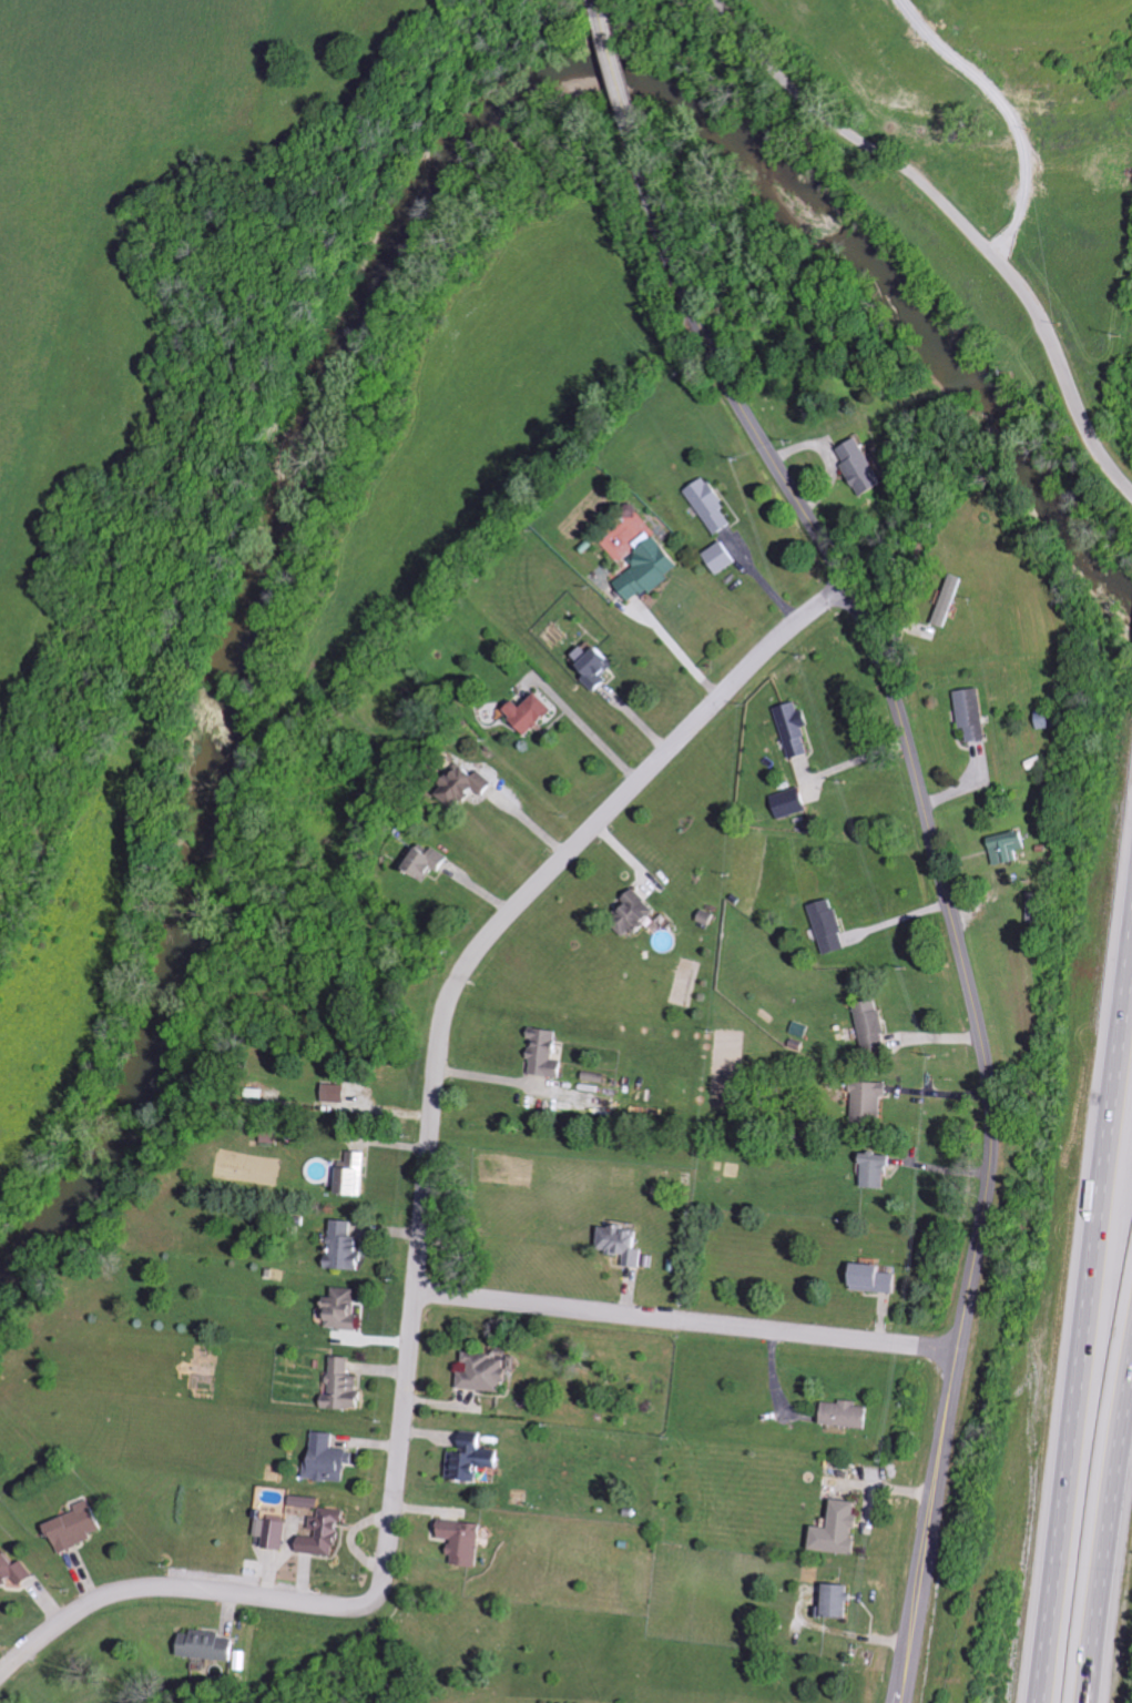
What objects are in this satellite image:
road: (599, 8)
road: (611, 57)
road: (1003, 112)
road: (956, 219)
building: (856, 467)
building: (706, 506)
building: (717, 558)
building: (643, 571)
building: (947, 602)
building: (589, 668)
building: (534, 712)
building: (968, 716)
building: (789, 730)
road: (594, 734)
building: (467, 787)
building: (786, 804)
building: (1004, 849)
building: (430, 863)
road: (941, 872)
building: (638, 912)
building: (832, 926)
building: (874, 1026)
building: (549, 1053)
road: (511, 1079)
building: (340, 1093)
building: (871, 1099)
building: (881, 1169)
building: (356, 1173)
road: (425, 1216)
building: (626, 1243)
building: (348, 1246)
building: (876, 1278)
road: (1088, 1307)
building: (349, 1309)
road: (689, 1321)
building: (488, 1370)
building: (345, 1386)
building: (850, 1413)
building: (475, 1457)
building: (332, 1458)
building: (79, 1527)
building: (843, 1529)
road: (1105, 1529)
building: (275, 1532)
building: (328, 1533)
building: (466, 1540)
building: (14, 1571)
building: (840, 1600)
road: (838, 1631)
building: (211, 1645)

